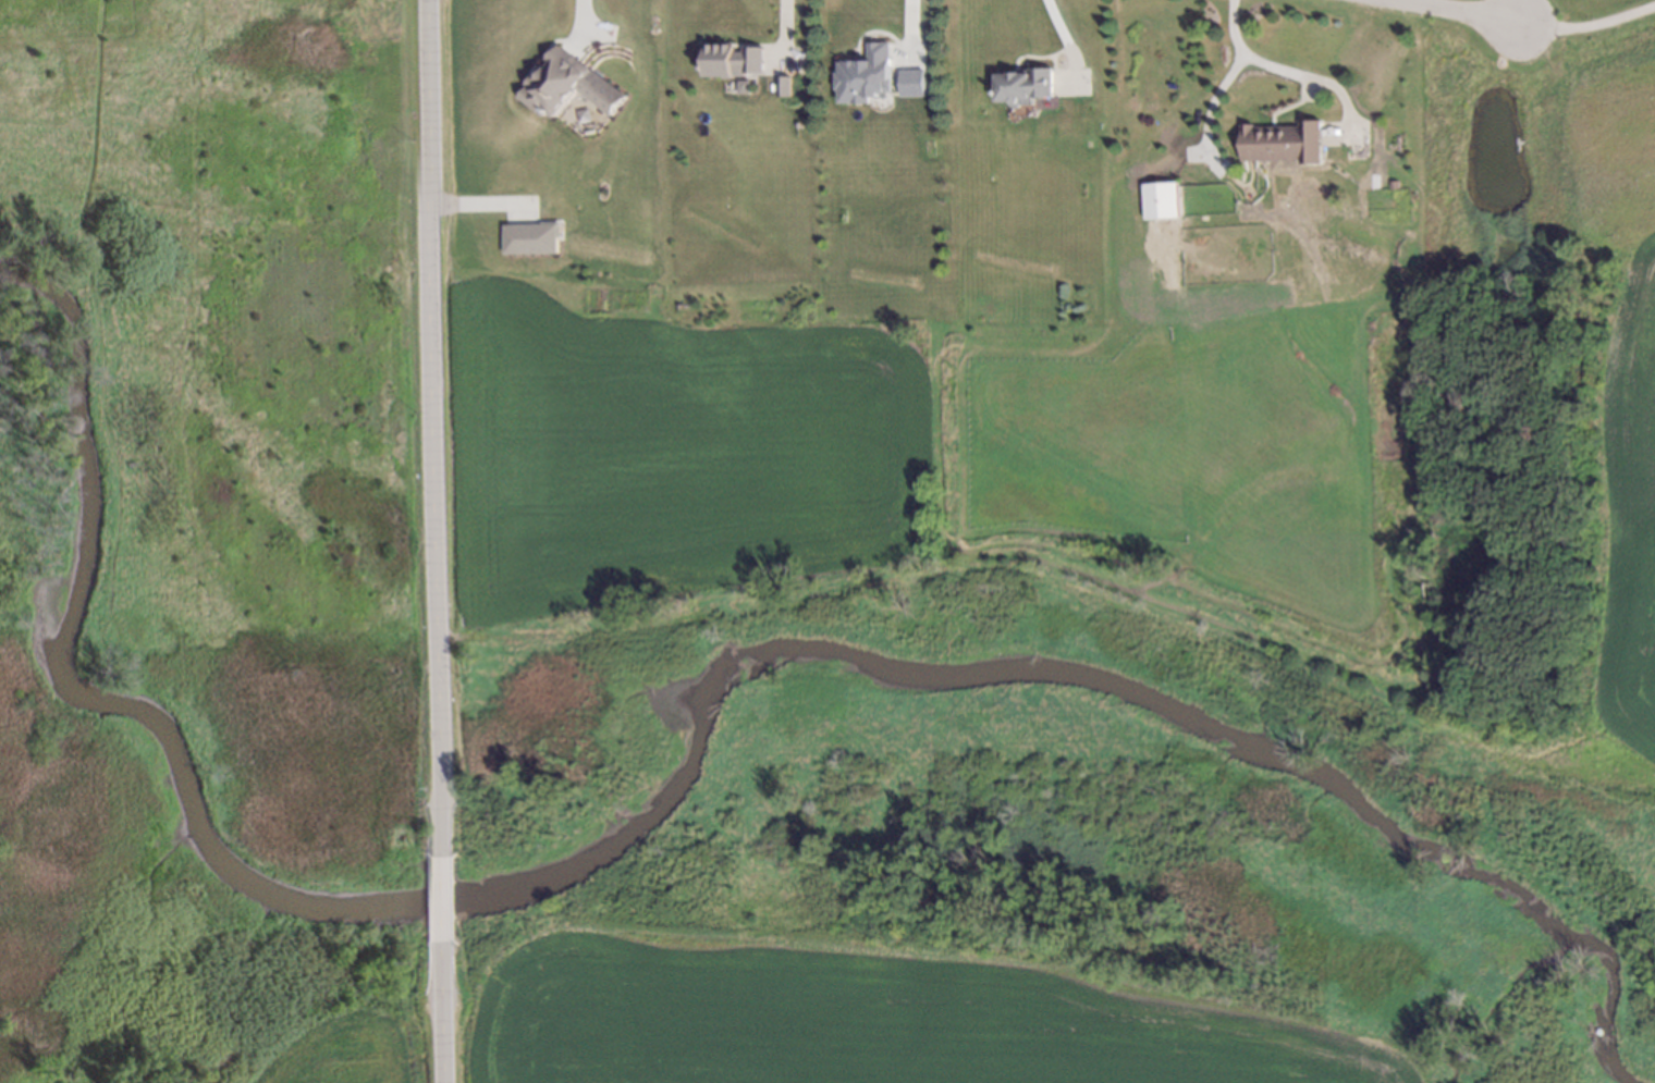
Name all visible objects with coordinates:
road: (1449, 11)
road: (904, 24)
road: (1585, 26)
road: (1055, 30)
road: (775, 36)
building: (731, 60)
road: (1283, 71)
building: (862, 72)
building: (909, 79)
building: (562, 83)
building: (1020, 83)
building: (781, 85)
road: (1203, 109)
building: (1282, 139)
building: (1388, 184)
building: (1156, 196)
building: (1223, 196)
building: (1403, 235)
building: (528, 238)
road: (433, 427)
river: (72, 468)
river: (731, 669)
road: (441, 899)
road: (443, 1013)
river: (1604, 1017)

